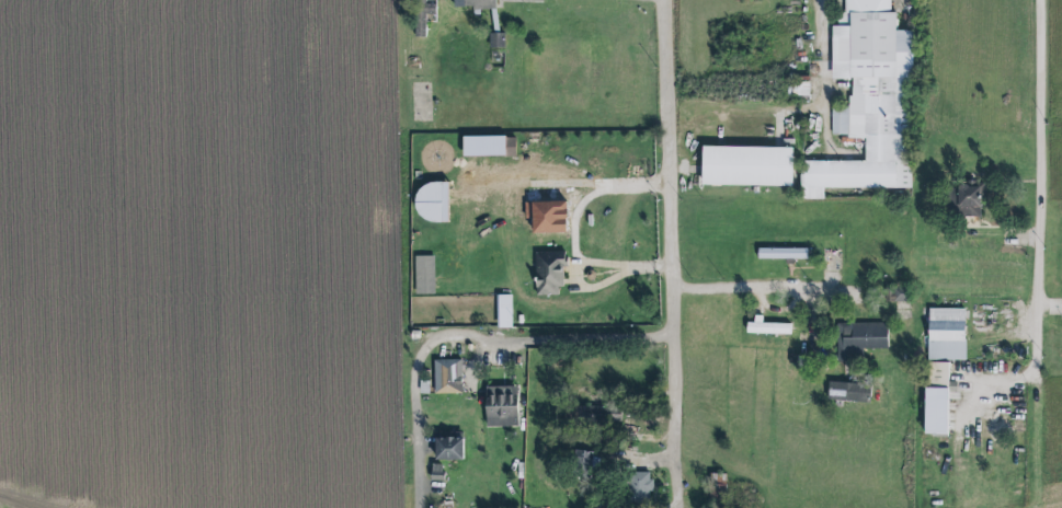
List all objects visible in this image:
building: (476, 3)
building: (422, 16)
road: (824, 36)
building: (498, 41)
building: (797, 88)
building: (867, 102)
road: (1039, 131)
building: (746, 166)
building: (963, 200)
building: (431, 203)
road: (573, 231)
road: (675, 254)
building: (781, 254)
building: (549, 273)
building: (423, 275)
road: (743, 287)
building: (897, 295)
building: (766, 327)
road: (467, 333)
building: (946, 335)
road: (1025, 337)
building: (858, 340)
building: (447, 378)
building: (847, 392)
building: (936, 399)
building: (501, 407)
building: (448, 450)
building: (581, 461)
building: (436, 473)
building: (639, 487)

